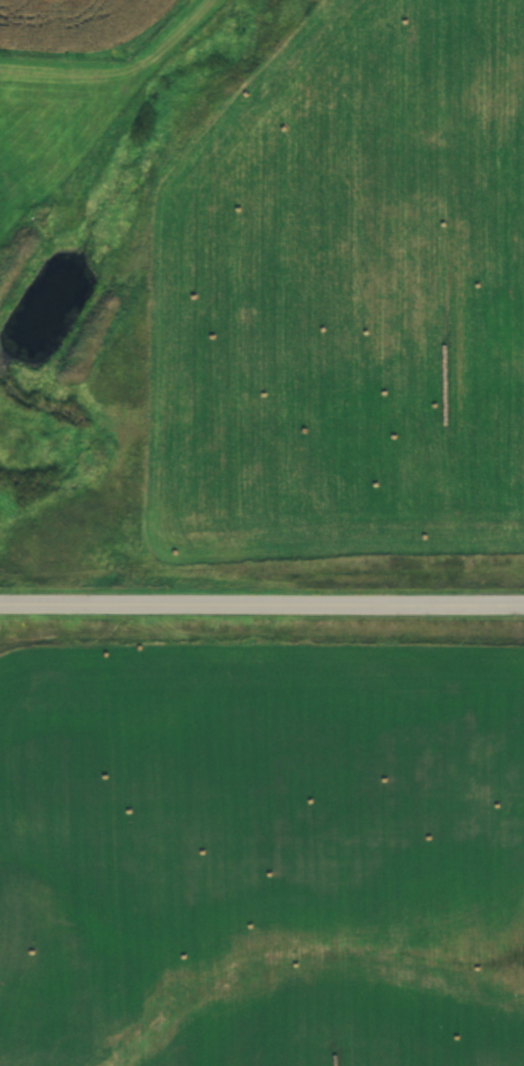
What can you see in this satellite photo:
road: (261, 598)

